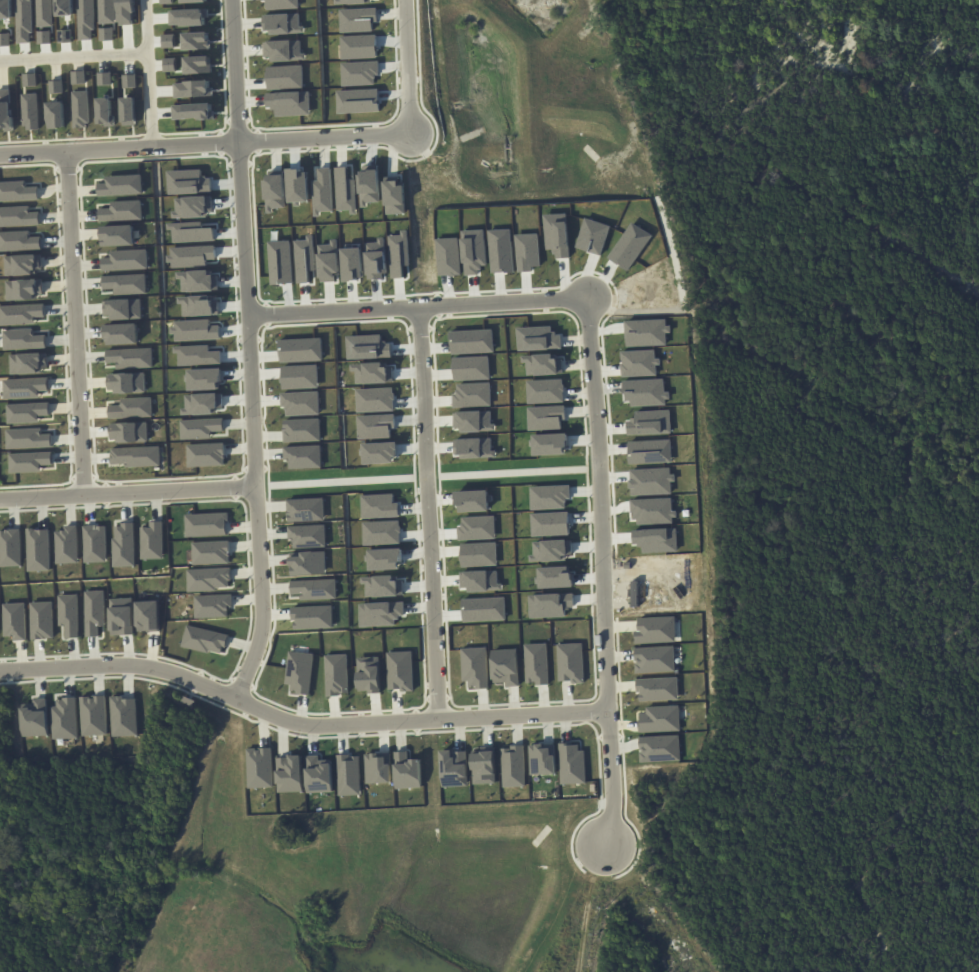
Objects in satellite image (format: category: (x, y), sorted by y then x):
building: (166, 1)
building: (193, 1)
park: (715, 2)
building: (355, 19)
building: (357, 46)
road: (77, 56)
road: (415, 64)
road: (155, 72)
building: (358, 72)
building: (77, 77)
building: (284, 77)
building: (103, 78)
building: (29, 79)
building: (129, 81)
building: (55, 87)
building: (288, 102)
building: (80, 109)
building: (5, 110)
building: (30, 111)
building: (128, 111)
building: (105, 112)
building: (55, 114)
road: (209, 142)
building: (121, 185)
building: (17, 191)
building: (122, 210)
building: (18, 216)
building: (557, 234)
building: (116, 235)
building: (593, 236)
building: (19, 241)
building: (627, 245)
building: (501, 250)
building: (474, 251)
building: (527, 251)
building: (399, 254)
building: (449, 256)
building: (305, 258)
building: (125, 260)
building: (281, 262)
building: (23, 264)
building: (125, 283)
building: (24, 289)
road: (424, 303)
building: (122, 309)
building: (20, 314)
road: (81, 321)
building: (645, 332)
building: (121, 334)
building: (536, 338)
building: (22, 339)
building: (470, 341)
road: (256, 352)
building: (130, 358)
building: (28, 363)
building: (469, 367)
building: (299, 376)
building: (126, 383)
building: (24, 388)
building: (543, 391)
building: (470, 395)
building: (373, 399)
building: (300, 403)
building: (132, 408)
building: (26, 412)
building: (544, 416)
building: (374, 426)
building: (199, 428)
building: (301, 430)
building: (128, 432)
building: (26, 437)
building: (548, 443)
building: (646, 451)
building: (379, 452)
building: (205, 454)
building: (135, 456)
building: (302, 456)
building: (28, 460)
building: (647, 481)
road: (133, 489)
building: (305, 510)
road: (436, 510)
building: (206, 524)
building: (307, 536)
building: (152, 541)
building: (95, 544)
building: (67, 545)
building: (124, 545)
building: (10, 548)
building: (38, 549)
building: (211, 552)
building: (308, 563)
road: (607, 565)
building: (208, 579)
building: (314, 589)
building: (213, 606)
building: (93, 612)
building: (68, 614)
building: (121, 616)
building: (147, 616)
building: (312, 617)
building: (41, 620)
building: (14, 621)
building: (654, 630)
building: (204, 640)
building: (654, 659)
building: (569, 662)
building: (536, 663)
building: (474, 666)
building: (505, 667)
building: (400, 671)
building: (299, 672)
building: (336, 674)
building: (368, 674)
building: (657, 688)
building: (93, 716)
building: (124, 716)
building: (35, 718)
building: (64, 718)
road: (302, 719)
building: (659, 719)
building: (659, 748)
building: (542, 759)
building: (571, 763)
building: (483, 766)
building: (513, 766)
building: (259, 768)
building: (378, 768)
building: (454, 768)
building: (407, 771)
building: (289, 774)
building: (348, 774)
building: (318, 775)
road: (596, 905)
road: (653, 915)

